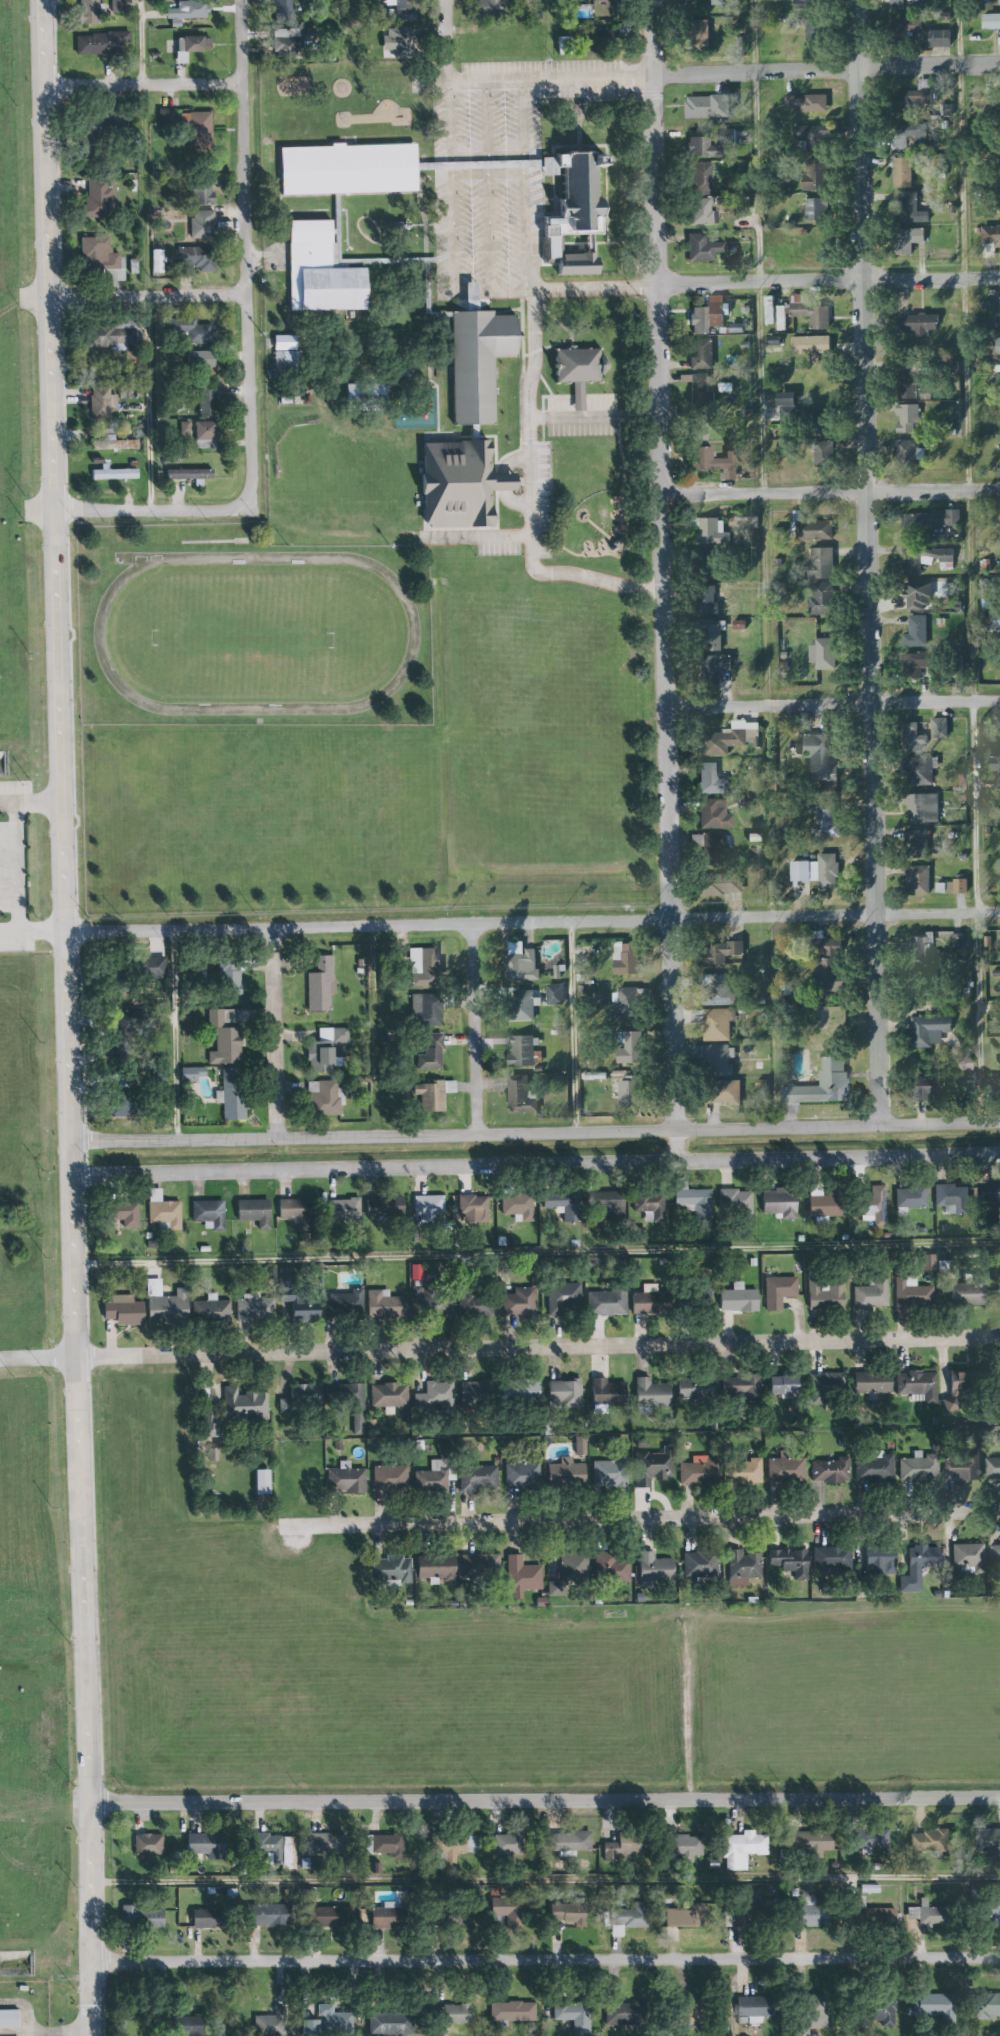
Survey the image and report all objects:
building: (526, 0)
building: (703, 2)
building: (897, 2)
building: (918, 2)
building: (998, 2)
building: (606, 3)
building: (809, 4)
building: (118, 6)
building: (489, 7)
building: (189, 10)
building: (404, 10)
building: (90, 11)
building: (283, 12)
building: (991, 23)
road: (549, 24)
road: (344, 28)
road: (446, 29)
building: (815, 30)
building: (904, 30)
building: (700, 34)
building: (599, 38)
building: (940, 38)
building: (291, 41)
building: (103, 42)
building: (402, 42)
building: (564, 45)
building: (190, 46)
road: (447, 71)
road: (827, 75)
road: (534, 81)
road: (143, 85)
building: (913, 98)
building: (806, 103)
building: (710, 107)
building: (992, 107)
building: (168, 118)
road: (487, 120)
building: (806, 134)
building: (904, 136)
building: (698, 146)
road: (488, 157)
building: (343, 168)
road: (489, 172)
building: (900, 172)
building: (813, 176)
building: (698, 178)
road: (525, 186)
building: (200, 191)
building: (99, 198)
building: (908, 208)
building: (817, 209)
building: (701, 212)
building: (199, 223)
road: (453, 224)
road: (489, 233)
building: (989, 235)
building: (908, 240)
building: (701, 248)
road: (245, 252)
road: (148, 255)
building: (101, 258)
building: (156, 260)
building: (191, 260)
building: (315, 270)
road: (827, 283)
road: (148, 296)
building: (999, 311)
building: (809, 313)
building: (706, 315)
building: (773, 315)
building: (915, 324)
building: (193, 331)
building: (105, 334)
building: (809, 345)
building: (996, 346)
building: (281, 351)
building: (701, 355)
building: (473, 358)
building: (200, 359)
building: (575, 370)
building: (905, 384)
building: (698, 388)
building: (363, 390)
building: (782, 398)
building: (204, 399)
building: (102, 404)
building: (783, 410)
road: (594, 416)
building: (906, 418)
building: (182, 428)
building: (201, 430)
road: (529, 433)
building: (116, 443)
building: (202, 444)
building: (822, 450)
building: (908, 451)
building: (712, 461)
building: (110, 473)
building: (189, 474)
road: (504, 482)
building: (454, 484)
road: (830, 492)
road: (151, 511)
building: (929, 520)
building: (812, 528)
building: (708, 531)
road: (476, 537)
building: (912, 561)
road: (971, 562)
road: (868, 563)
road: (766, 564)
building: (822, 564)
road: (661, 581)
building: (920, 593)
building: (819, 599)
building: (704, 600)
building: (736, 625)
building: (914, 632)
track: (414, 634)
building: (710, 635)
building: (826, 655)
building: (912, 665)
building: (711, 668)
road: (833, 705)
building: (938, 728)
building: (908, 735)
building: (726, 741)
building: (814, 758)
building: (986, 764)
building: (915, 769)
building: (712, 780)
road: (30, 801)
building: (919, 804)
building: (715, 814)
building: (824, 821)
building: (711, 847)
building: (916, 847)
road: (15, 868)
building: (801, 872)
building: (829, 872)
building: (916, 880)
building: (719, 884)
building: (955, 887)
road: (533, 923)
road: (32, 934)
building: (956, 942)
building: (918, 949)
building: (719, 952)
building: (629, 962)
building: (825, 964)
building: (147, 967)
building: (421, 967)
building: (523, 968)
building: (225, 977)
building: (317, 985)
building: (719, 989)
building: (553, 995)
building: (626, 1004)
building: (522, 1005)
building: (422, 1009)
road: (67, 1017)
building: (120, 1018)
building: (717, 1024)
road: (575, 1027)
road: (474, 1029)
building: (927, 1030)
road: (372, 1031)
road: (275, 1033)
road: (172, 1035)
building: (221, 1036)
building: (628, 1049)
building: (428, 1052)
building: (521, 1052)
building: (320, 1057)
building: (717, 1060)
building: (959, 1061)
building: (188, 1074)
building: (819, 1085)
building: (922, 1089)
building: (722, 1092)
building: (229, 1094)
building: (430, 1094)
building: (625, 1094)
building: (518, 1095)
building: (323, 1100)
building: (114, 1111)
road: (535, 1132)
road: (535, 1165)
building: (989, 1192)
building: (910, 1196)
building: (950, 1197)
building: (690, 1198)
building: (556, 1200)
building: (604, 1202)
building: (733, 1202)
building: (647, 1204)
building: (775, 1204)
building: (820, 1205)
building: (870, 1205)
building: (515, 1206)
building: (380, 1208)
building: (429, 1208)
building: (470, 1208)
building: (160, 1210)
building: (340, 1210)
building: (296, 1211)
building: (251, 1212)
building: (206, 1213)
building: (122, 1214)
road: (536, 1254)
building: (925, 1262)
building: (413, 1272)
building: (967, 1290)
building: (775, 1292)
building: (909, 1292)
building: (869, 1294)
building: (823, 1296)
building: (560, 1297)
building: (699, 1297)
building: (734, 1299)
building: (518, 1301)
building: (644, 1301)
building: (605, 1302)
building: (160, 1303)
building: (381, 1305)
building: (341, 1306)
building: (434, 1306)
building: (473, 1306)
building: (119, 1310)
building: (207, 1310)
building: (251, 1311)
building: (299, 1311)
road: (537, 1347)
road: (37, 1360)
building: (869, 1383)
building: (777, 1385)
building: (823, 1385)
building: (916, 1385)
building: (691, 1386)
building: (737, 1386)
building: (519, 1389)
building: (953, 1391)
building: (563, 1392)
building: (472, 1393)
building: (607, 1393)
building: (647, 1393)
building: (386, 1395)
building: (434, 1396)
building: (299, 1397)
building: (352, 1399)
building: (241, 1404)
building: (578, 1446)
building: (210, 1455)
building: (652, 1466)
building: (960, 1466)
building: (873, 1467)
building: (785, 1468)
building: (918, 1469)
building: (993, 1469)
building: (830, 1470)
building: (695, 1471)
building: (742, 1471)
building: (562, 1472)
building: (606, 1474)
building: (519, 1475)
building: (429, 1477)
building: (387, 1478)
building: (476, 1478)
building: (343, 1480)
building: (257, 1482)
road: (644, 1522)
building: (993, 1555)
building: (829, 1557)
building: (787, 1562)
building: (877, 1563)
building: (963, 1563)
building: (699, 1564)
building: (742, 1564)
building: (476, 1565)
building: (917, 1567)
building: (433, 1568)
building: (654, 1568)
building: (392, 1569)
building: (608, 1569)
building: (567, 1571)
building: (519, 1577)
road: (543, 1801)
building: (875, 1839)
building: (816, 1840)
building: (572, 1841)
building: (933, 1841)
building: (387, 1843)
building: (509, 1843)
building: (149, 1844)
building: (329, 1844)
building: (988, 1844)
building: (205, 1845)
building: (690, 1845)
building: (447, 1847)
building: (277, 1848)
building: (741, 1848)
road: (544, 1878)
building: (507, 1909)
building: (991, 1911)
building: (571, 1913)
building: (755, 1913)
building: (816, 1913)
building: (930, 1914)
building: (272, 1915)
building: (142, 1916)
building: (333, 1916)
building: (388, 1916)
building: (687, 1916)
building: (880, 1916)
building: (209, 1918)
building: (463, 1918)
building: (631, 1918)
road: (545, 1960)
building: (986, 2005)
building: (757, 2006)
building: (934, 2007)
building: (514, 2011)
building: (702, 2011)
building: (818, 2011)
building: (458, 2013)
building: (626, 2013)
building: (887, 2014)
building: (573, 2016)
building: (335, 2018)
building: (9, 2019)
building: (273, 2024)
building: (390, 2024)
building: (194, 2025)
building: (313, 2028)
road: (56, 2033)

